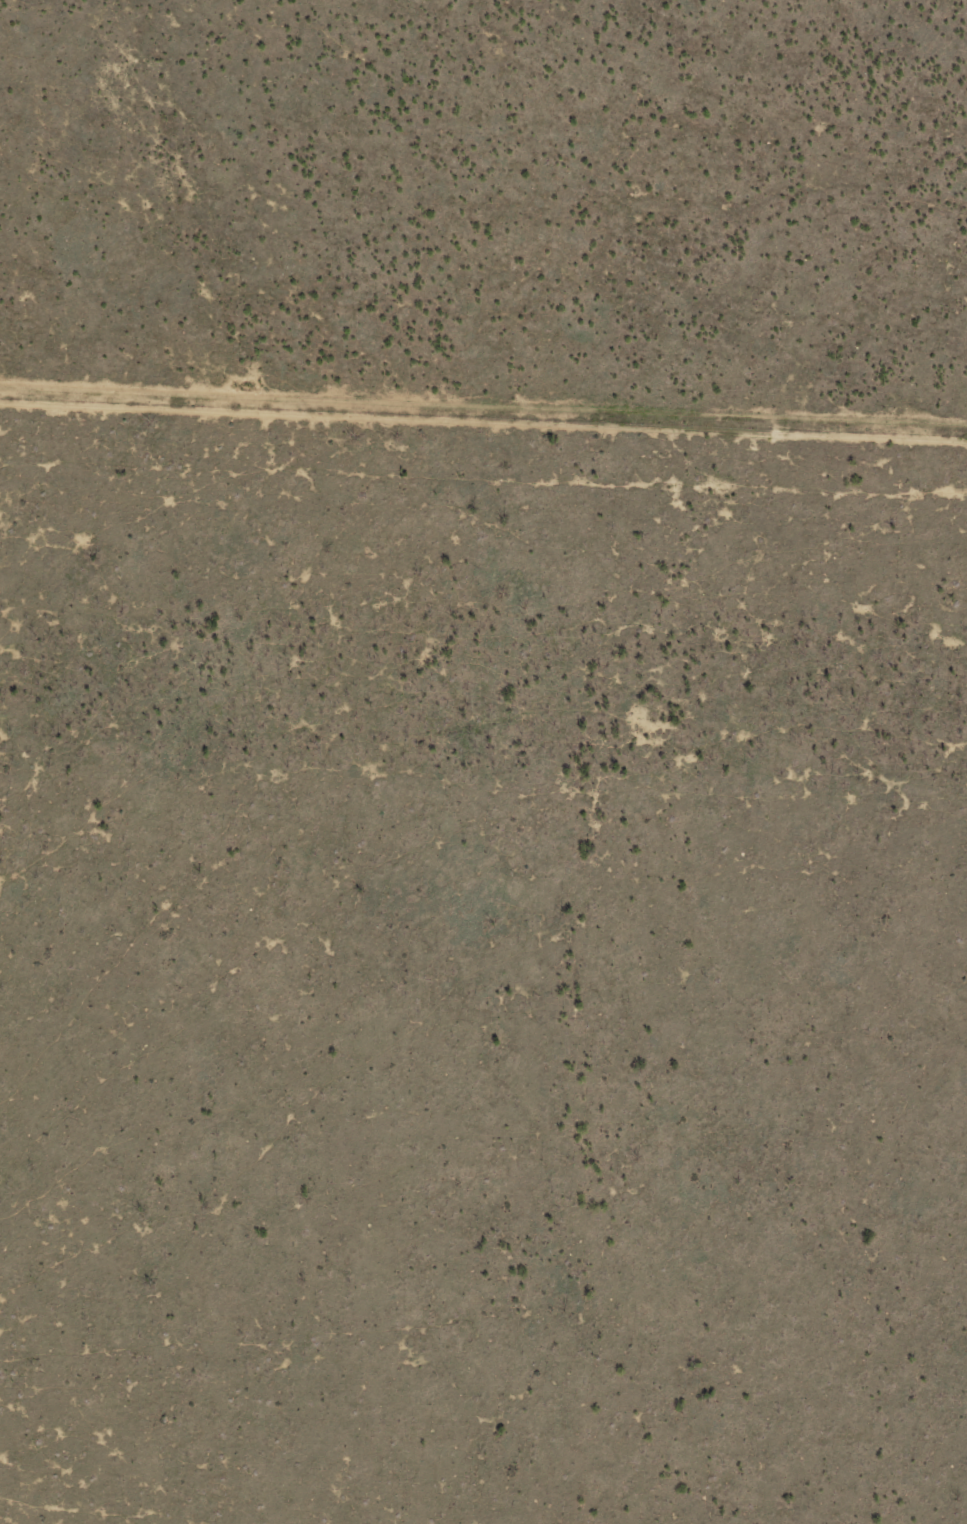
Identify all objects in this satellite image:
road: (483, 428)

